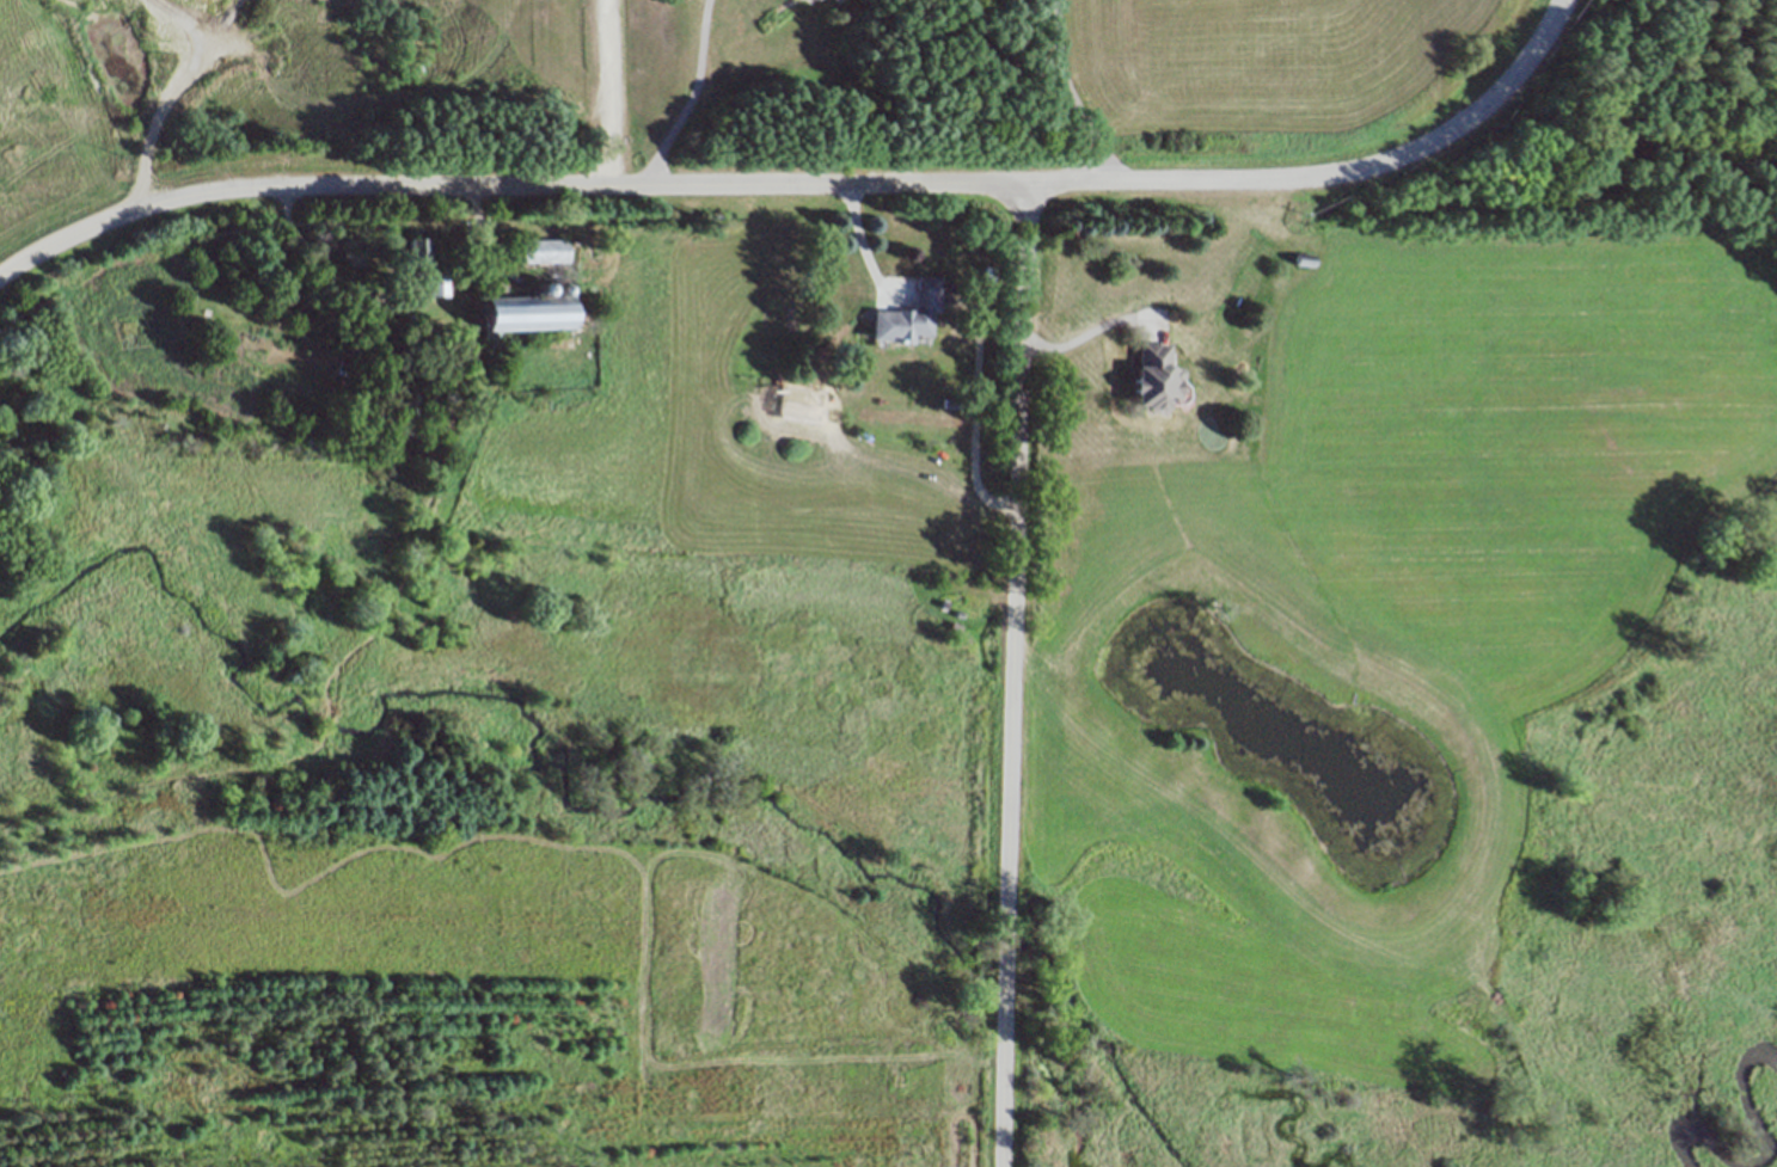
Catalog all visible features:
building: (814, 1)
building: (834, 1)
road: (608, 92)
road: (1070, 96)
road: (686, 98)
road: (807, 184)
road: (858, 245)
building: (541, 250)
building: (415, 257)
building: (1305, 258)
building: (1306, 264)
building: (436, 285)
building: (523, 313)
building: (907, 314)
road: (1085, 330)
building: (1153, 376)
building: (797, 382)
building: (402, 404)
road: (972, 419)
road: (1013, 674)

